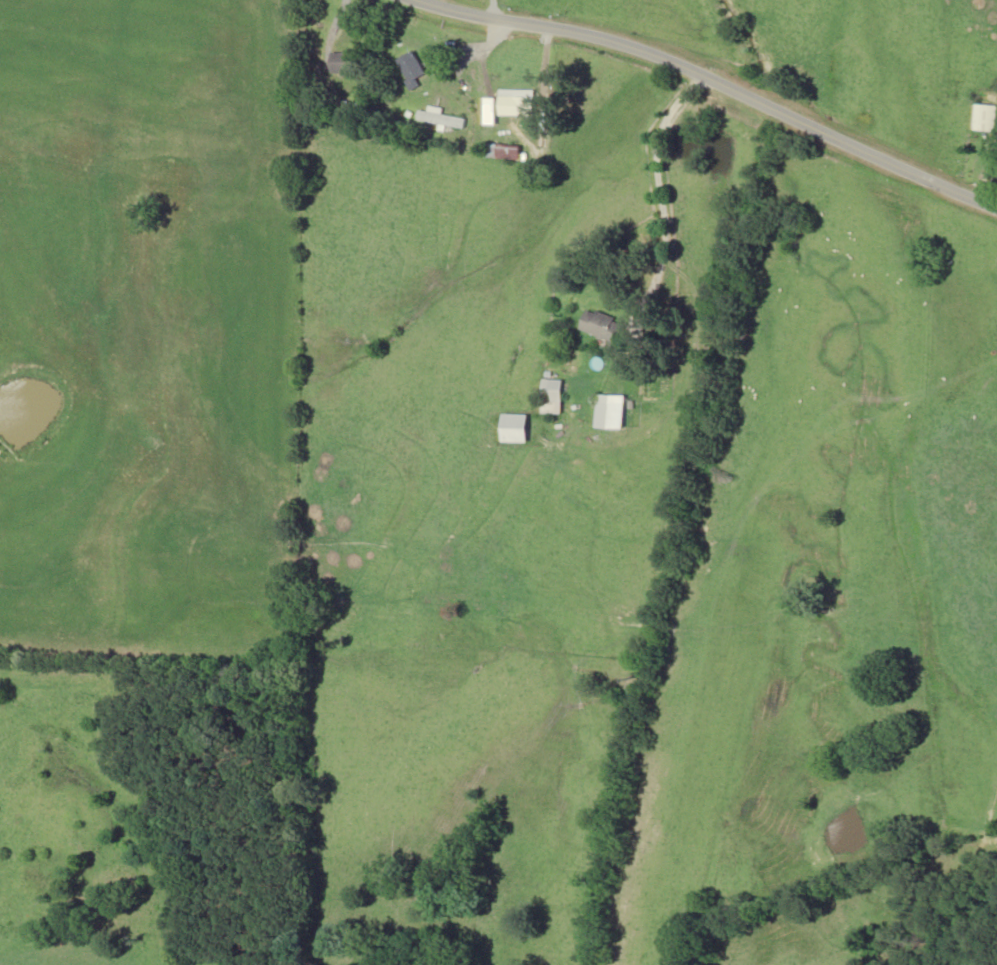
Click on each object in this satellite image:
building: (342, 62)
building: (409, 69)
road: (708, 78)
building: (513, 102)
building: (983, 117)
building: (438, 118)
building: (501, 152)
building: (600, 326)
building: (550, 397)
building: (512, 428)

